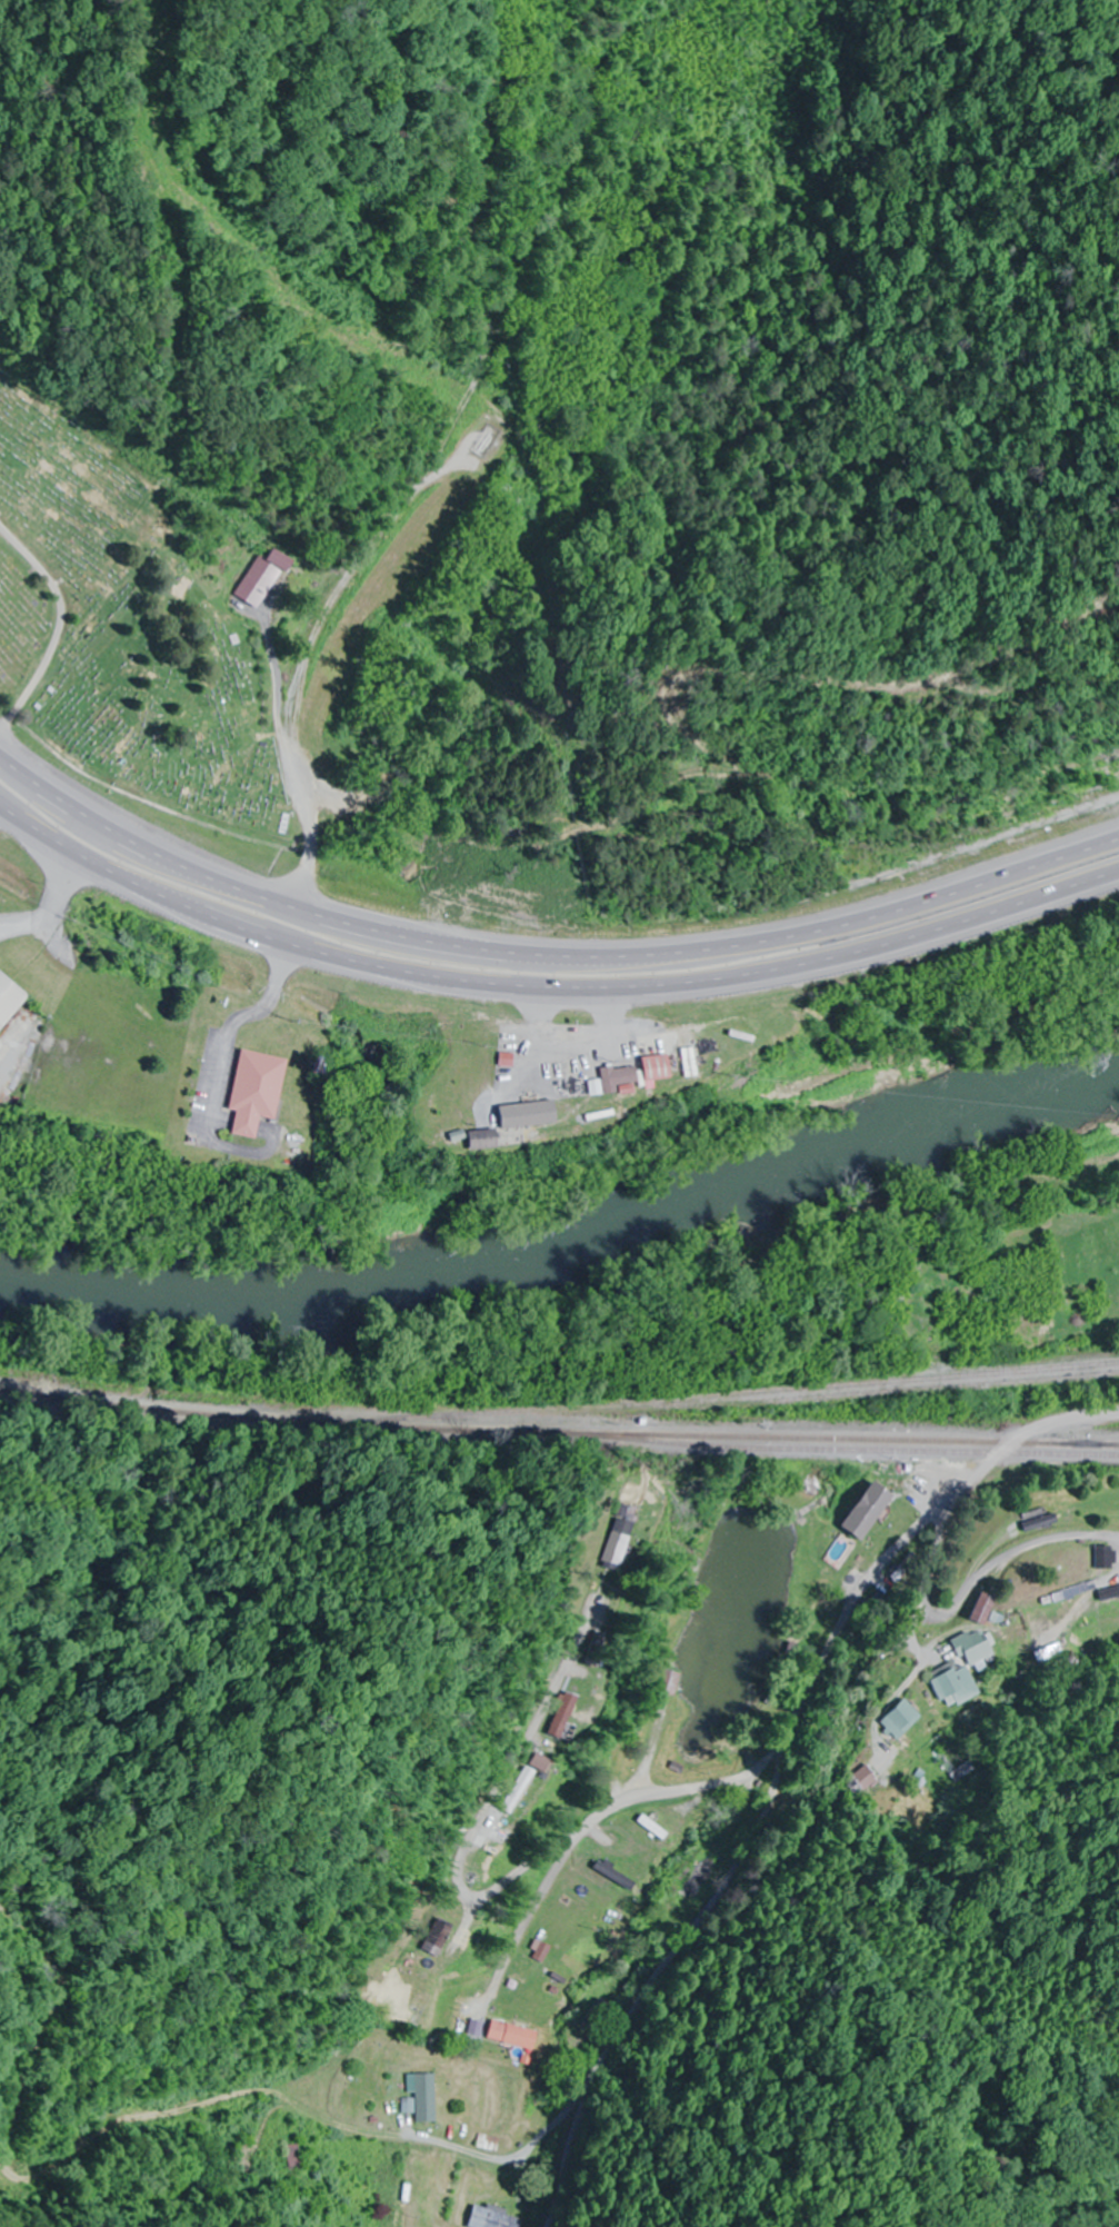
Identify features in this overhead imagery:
building: (267, 578)
park: (124, 623)
road: (61, 627)
road: (291, 765)
road: (544, 954)
road: (548, 991)
building: (10, 1000)
building: (658, 1068)
building: (619, 1078)
building: (257, 1092)
building: (529, 1115)
river: (568, 1249)
railway: (813, 1412)
road: (1039, 1428)
railway: (558, 1440)
building: (886, 1521)
building: (1041, 1524)
building: (625, 1543)
building: (1108, 1559)
building: (985, 1609)
road: (967, 1612)
building: (973, 1648)
building: (955, 1687)
building: (577, 1716)
building: (899, 1721)
road: (639, 1760)
building: (532, 1791)
road: (607, 1812)
building: (655, 1828)
road: (755, 1839)
building: (616, 1876)
building: (447, 1938)
building: (514, 2036)
building: (428, 2099)
building: (298, 2158)
building: (492, 2218)

